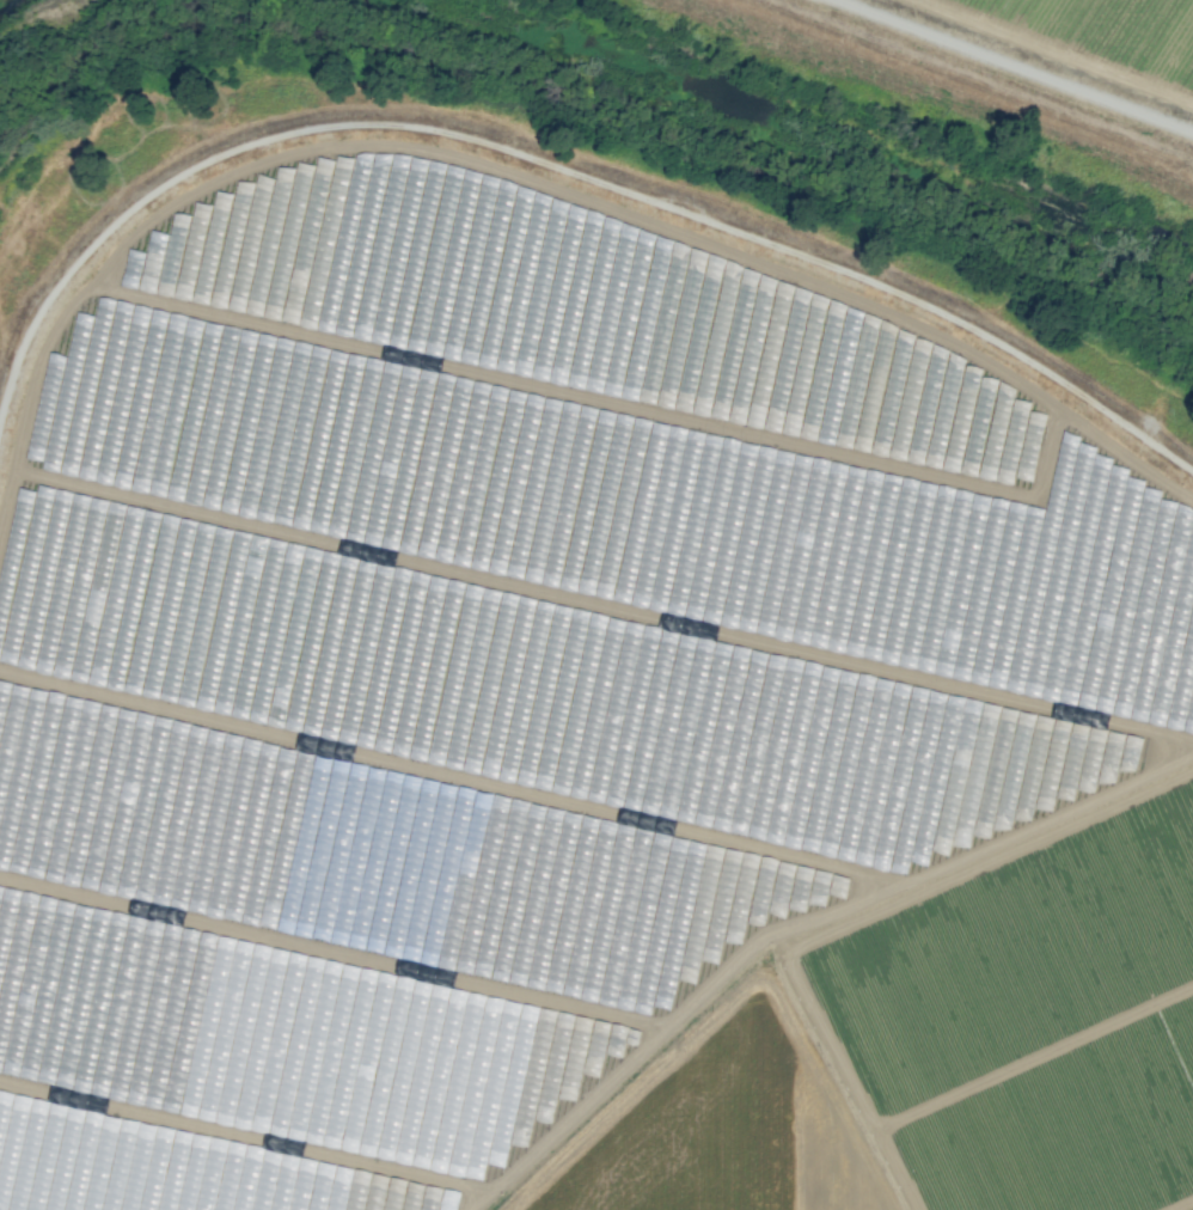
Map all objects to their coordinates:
crop: (33, 37)
river: (39, 43)
crop: (11, 109)
river: (864, 145)
crop: (549, 716)
crop: (1064, 1125)

